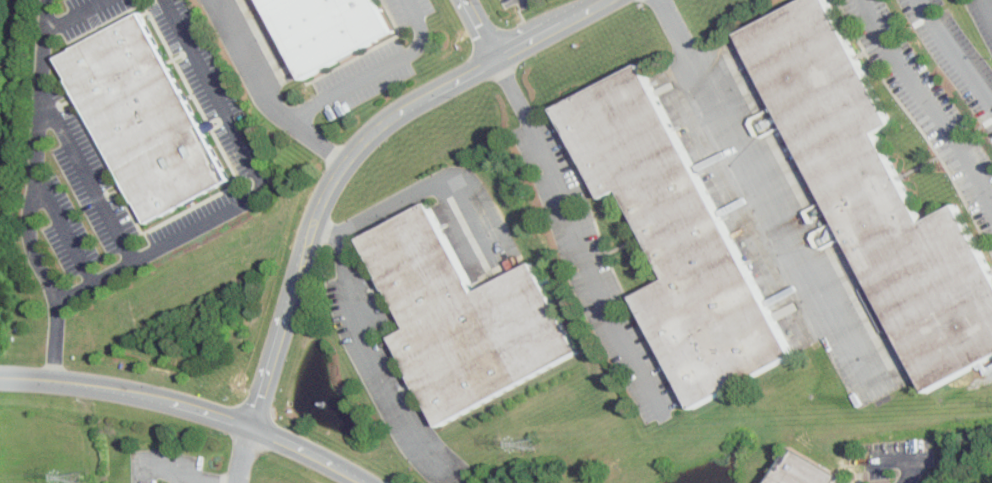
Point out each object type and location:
road: (989, 5)
road: (83, 16)
building: (329, 29)
road: (475, 31)
road: (954, 52)
road: (254, 65)
road: (351, 83)
road: (927, 101)
road: (8, 107)
building: (149, 116)
road: (38, 150)
road: (352, 151)
road: (91, 174)
building: (876, 186)
road: (427, 187)
road: (762, 189)
road: (254, 197)
road: (575, 230)
building: (678, 237)
building: (463, 315)
road: (56, 337)
road: (370, 353)
road: (187, 407)
power tower: (529, 444)
road: (243, 454)
road: (905, 457)
building: (807, 469)
power tower: (86, 474)
road: (203, 478)

